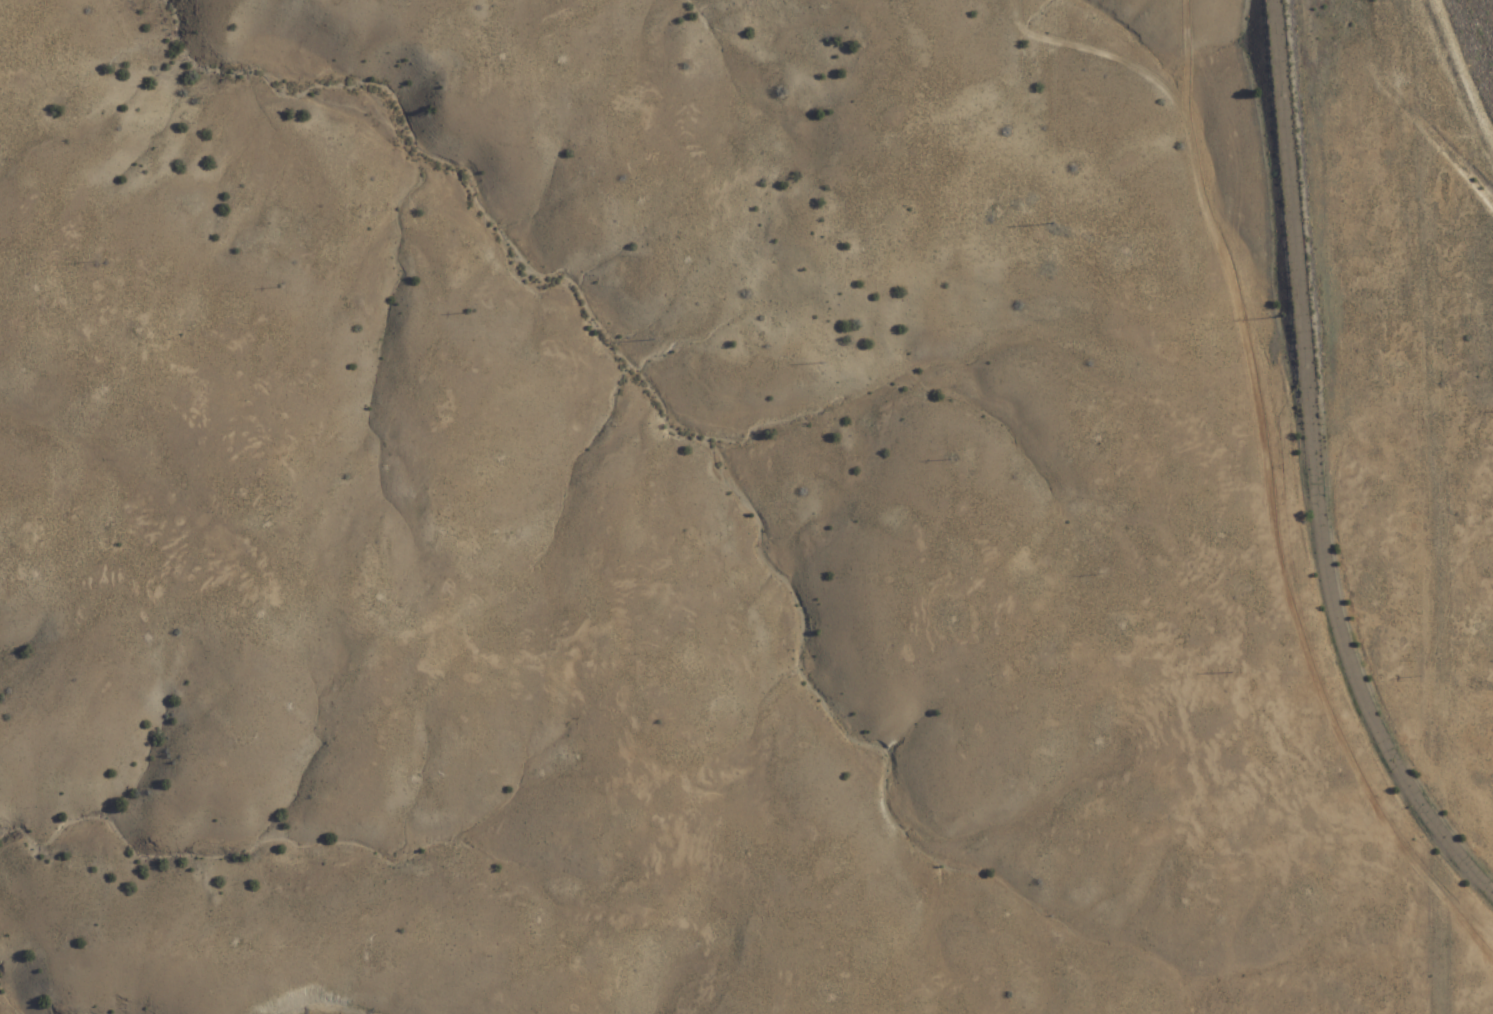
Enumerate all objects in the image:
dam: (1475, 42)
dam: (1294, 192)
road: (1318, 467)

